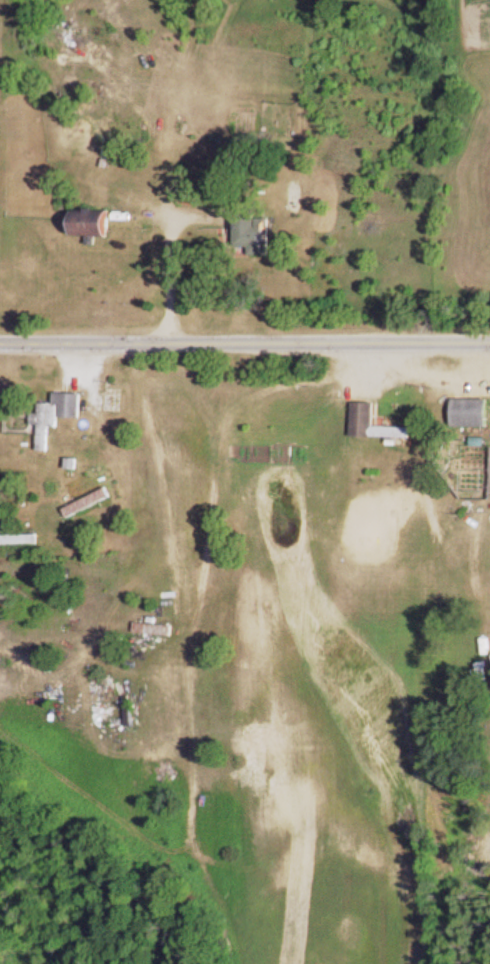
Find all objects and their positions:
building: (95, 225)
building: (257, 237)
road: (245, 345)
building: (473, 416)
building: (61, 418)
building: (376, 427)
building: (89, 505)
building: (9, 524)
building: (158, 524)

